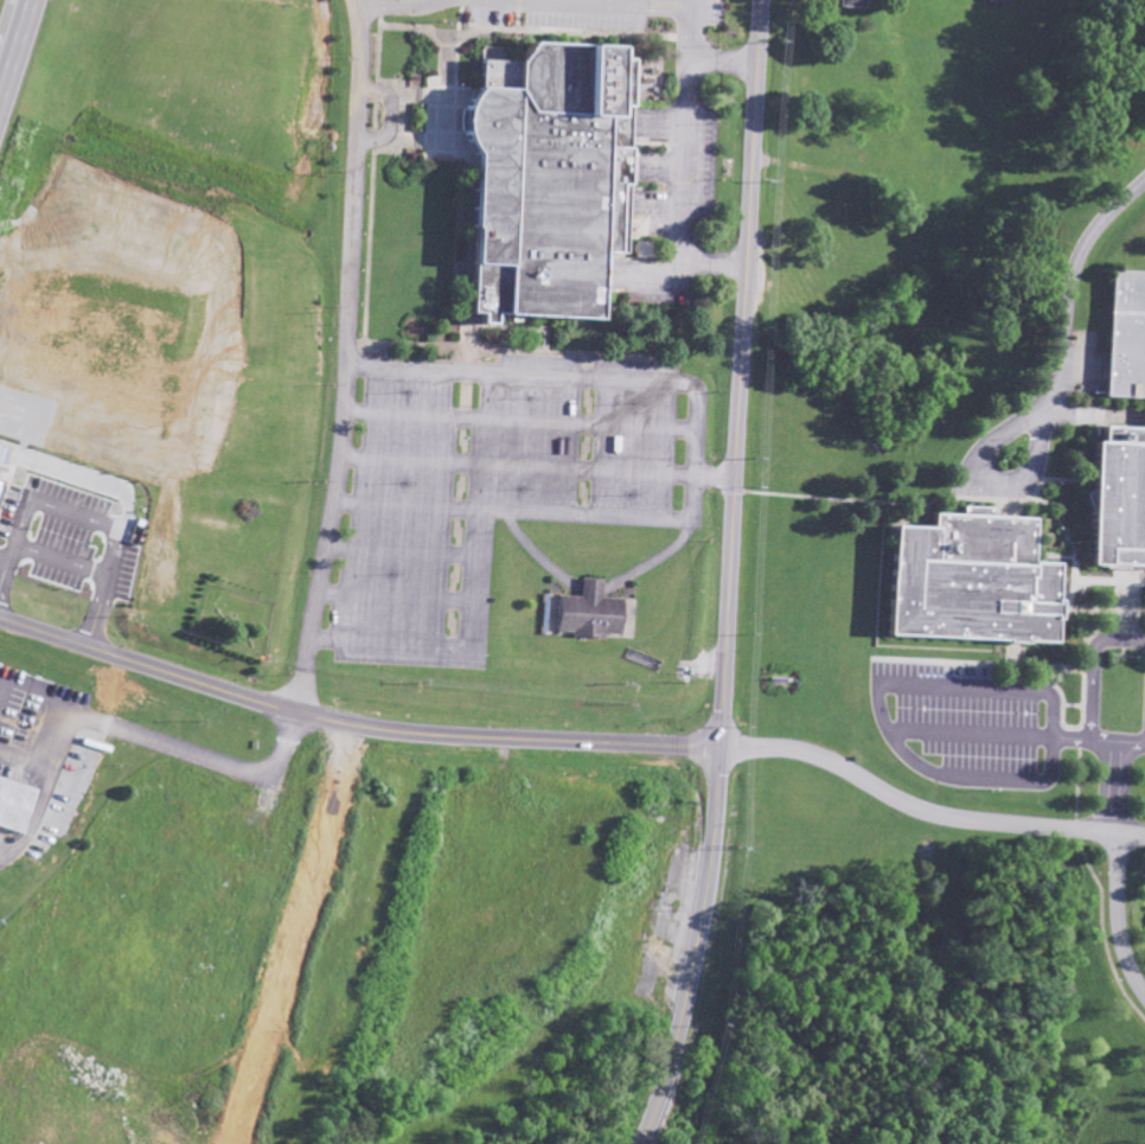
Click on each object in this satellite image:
building: (850, 4)
road: (9, 31)
road: (386, 113)
building: (550, 173)
road: (1070, 271)
road: (526, 325)
building: (1124, 341)
road: (584, 351)
road: (341, 357)
road: (511, 371)
road: (741, 373)
road: (517, 418)
road: (693, 445)
road: (514, 464)
road: (715, 473)
parking lot: (486, 484)
road: (981, 484)
road: (971, 497)
building: (1124, 499)
road: (510, 509)
road: (402, 549)
road: (593, 586)
building: (972, 586)
road: (397, 595)
building: (586, 611)
road: (385, 640)
road: (983, 660)
road: (1094, 664)
road: (1082, 692)
parking lot: (973, 714)
road: (352, 724)
road: (1015, 734)
road: (1050, 763)
road: (1115, 782)
building: (14, 805)
road: (926, 812)
road: (1118, 913)
road: (695, 948)

